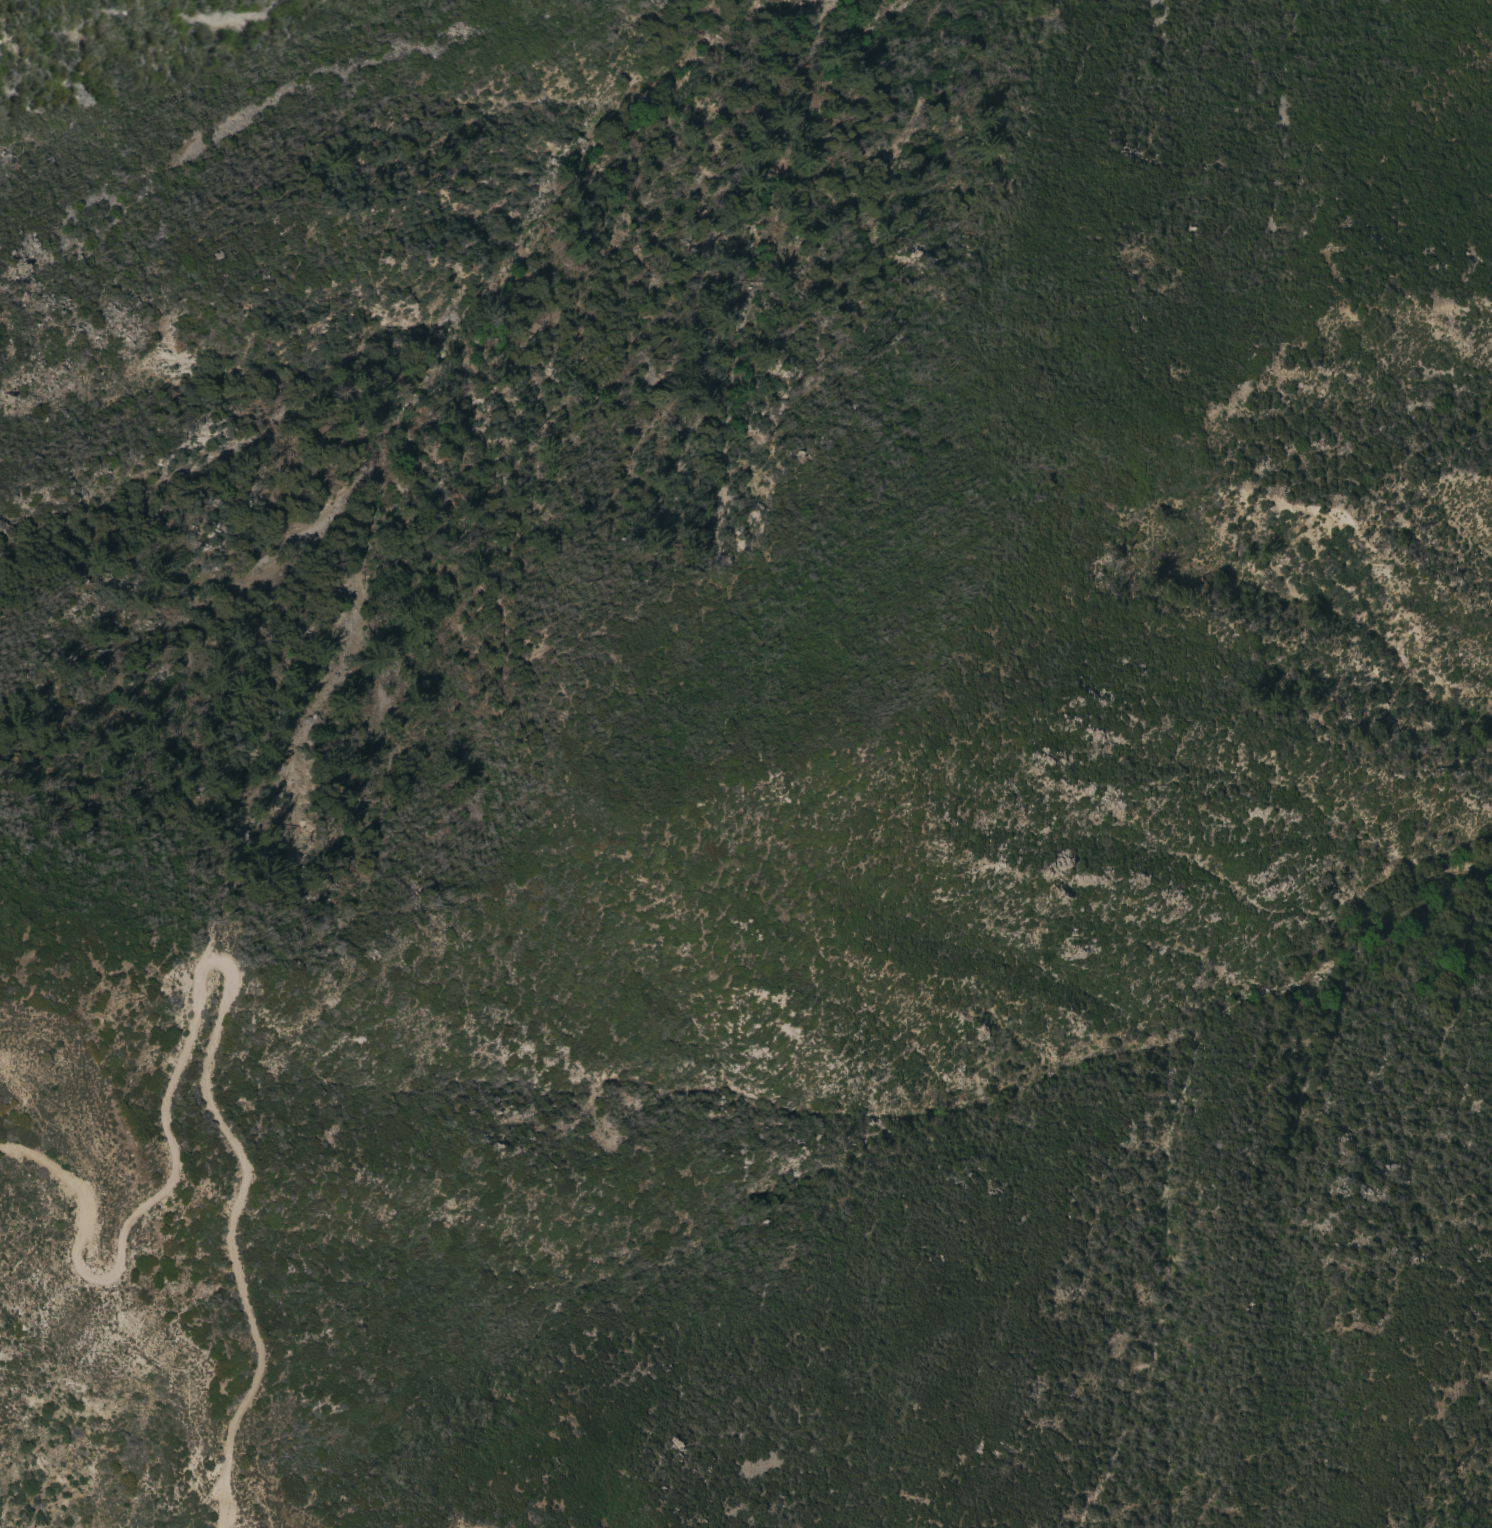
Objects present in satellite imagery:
road: (222, 968)
road: (482, 1522)

